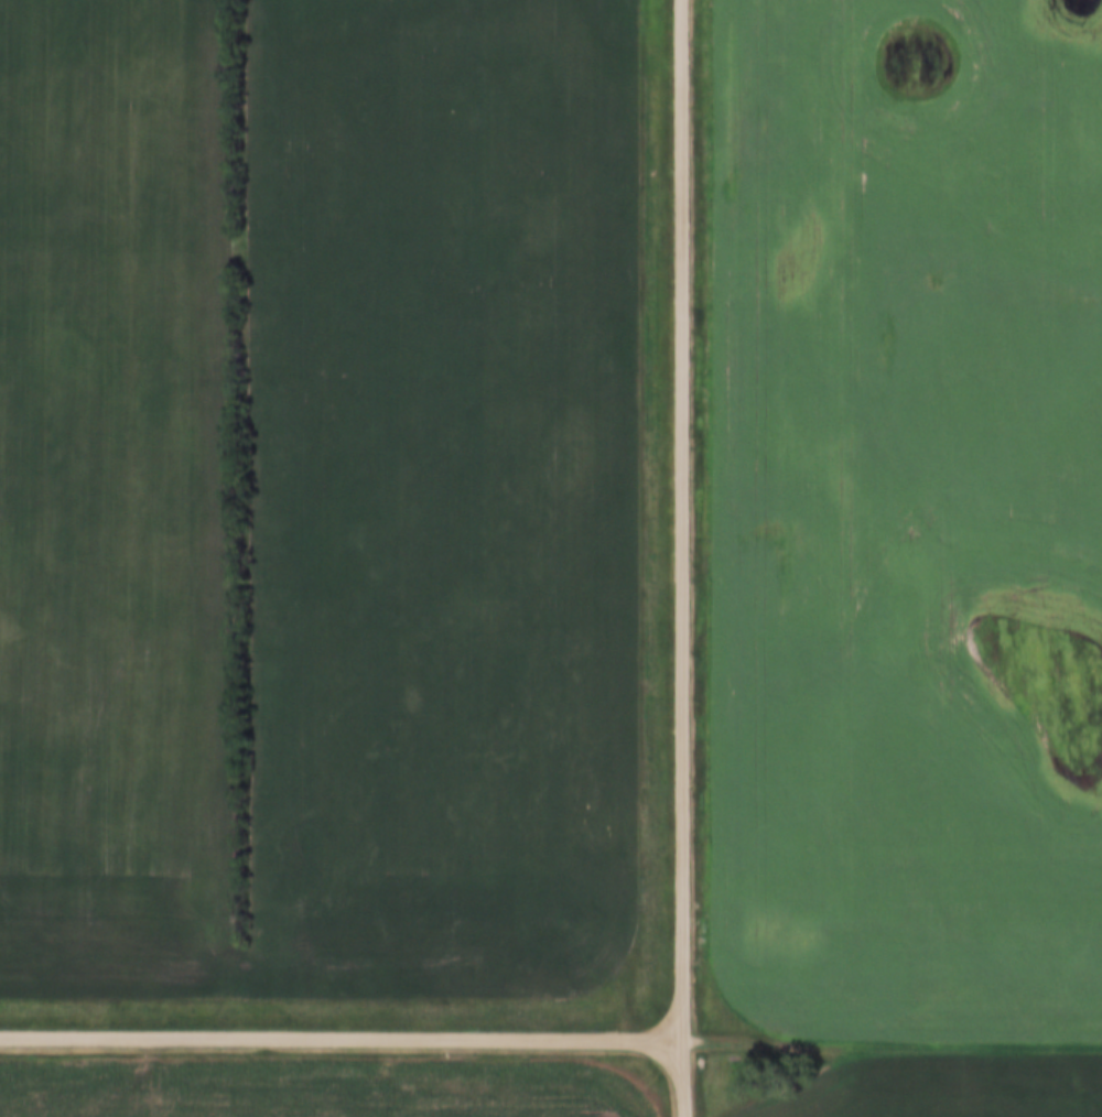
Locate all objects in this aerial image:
road: (682, 558)
road: (892, 1039)
road: (341, 1040)

